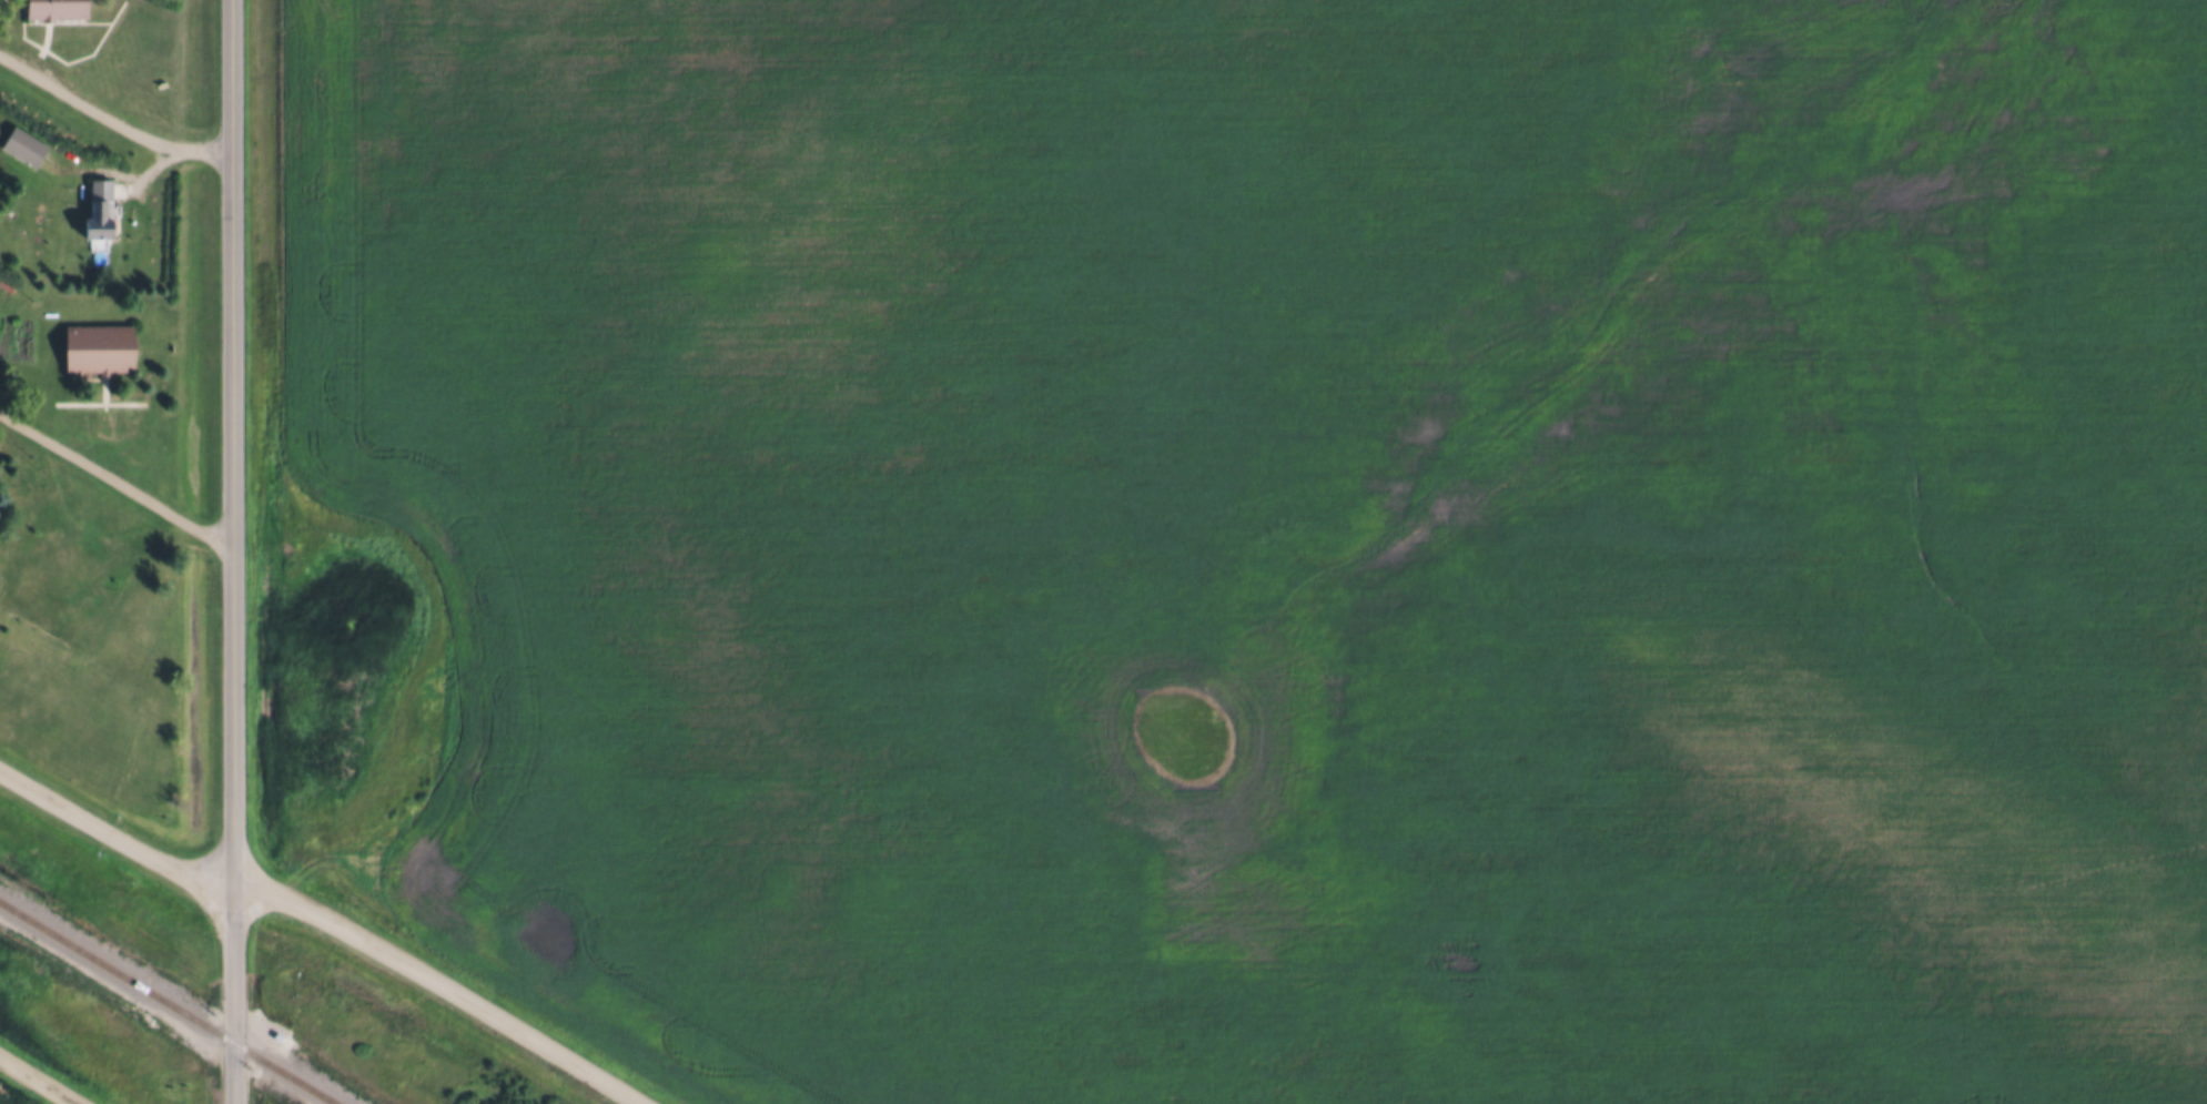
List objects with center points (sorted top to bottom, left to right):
building: (52, 7)
road: (108, 115)
building: (22, 142)
building: (98, 206)
building: (6, 275)
building: (94, 345)
road: (113, 474)
road: (226, 551)
road: (115, 829)
road: (447, 982)
railway: (169, 1002)
road: (39, 1078)

